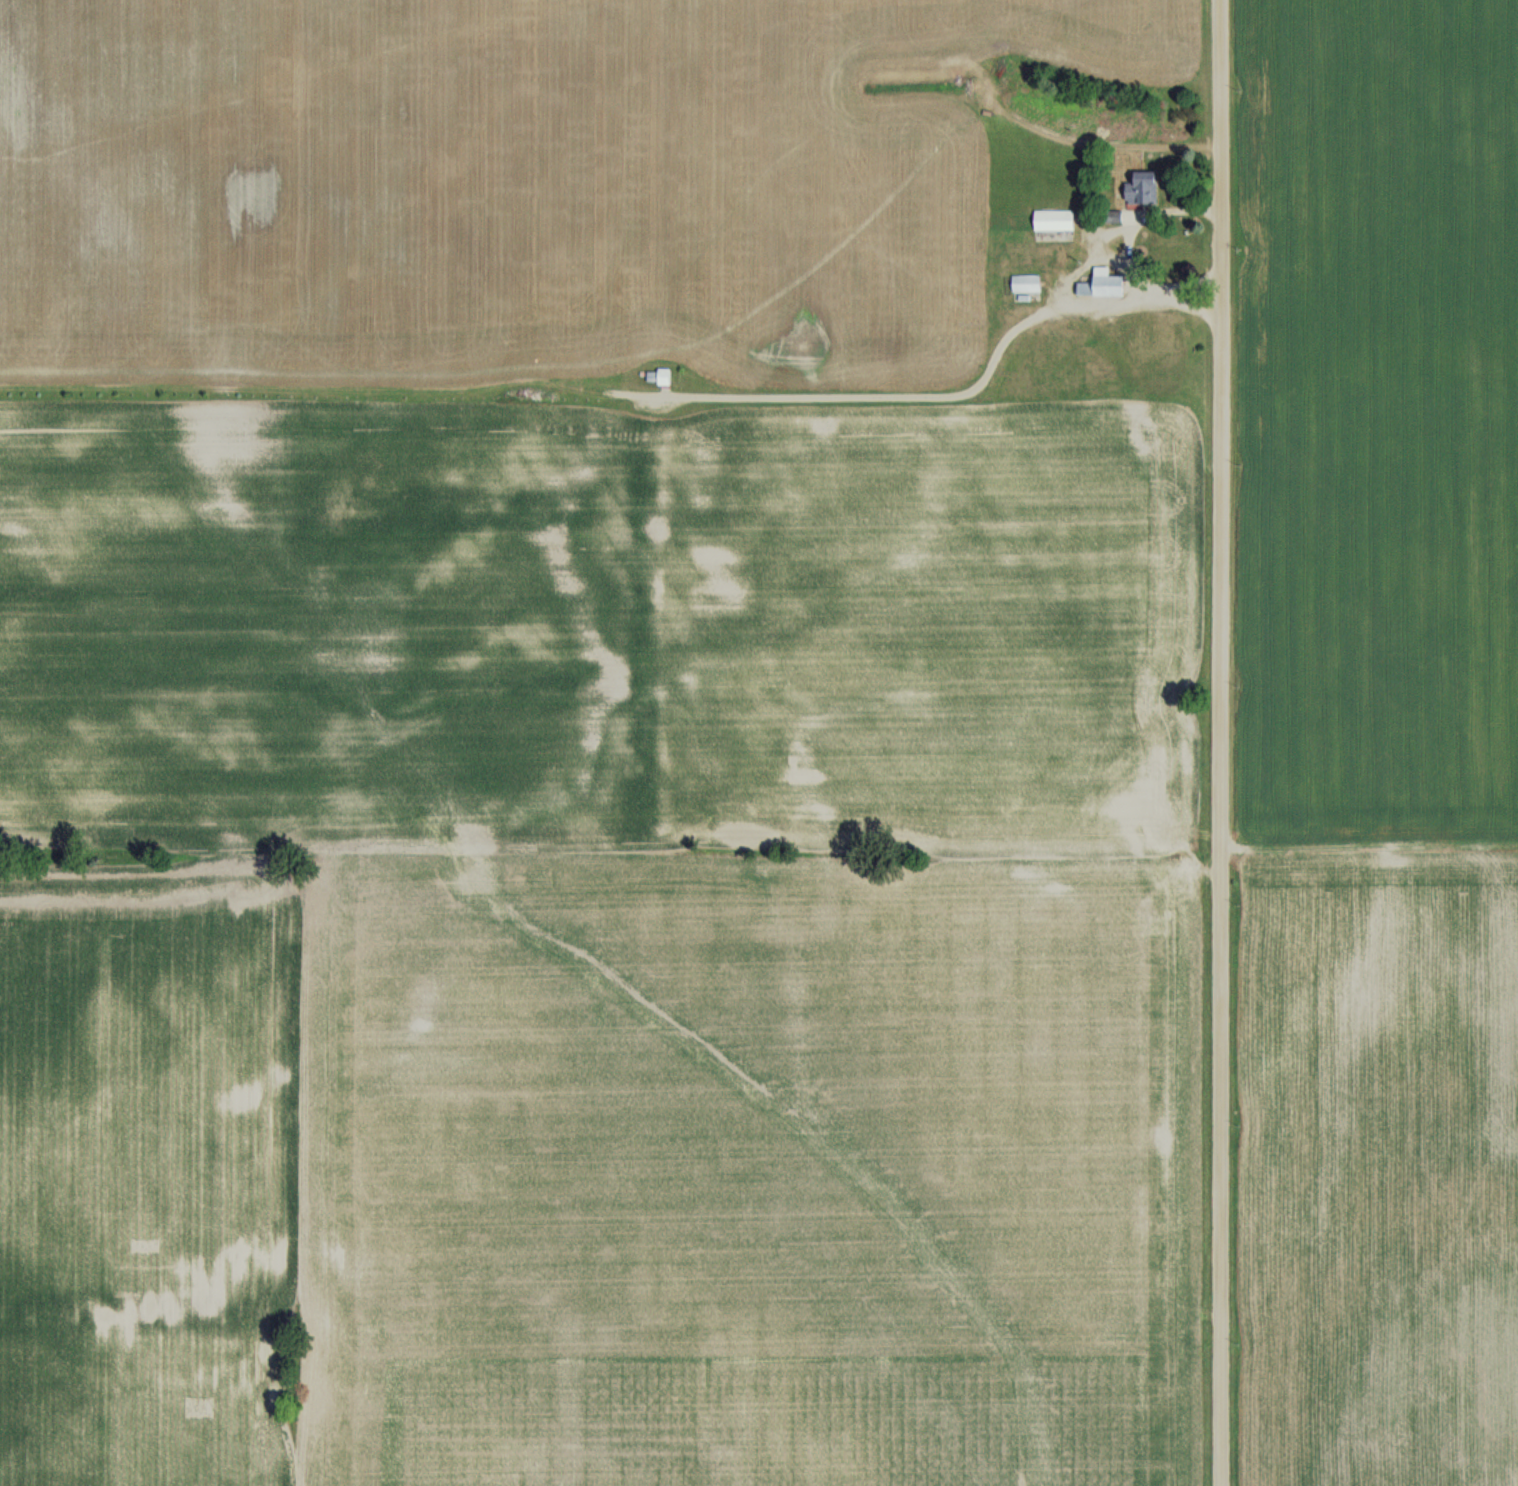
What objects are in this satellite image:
building: (1146, 188)
building: (1057, 219)
road: (1130, 248)
building: (1028, 282)
building: (1105, 283)
building: (661, 376)
road: (1222, 742)

